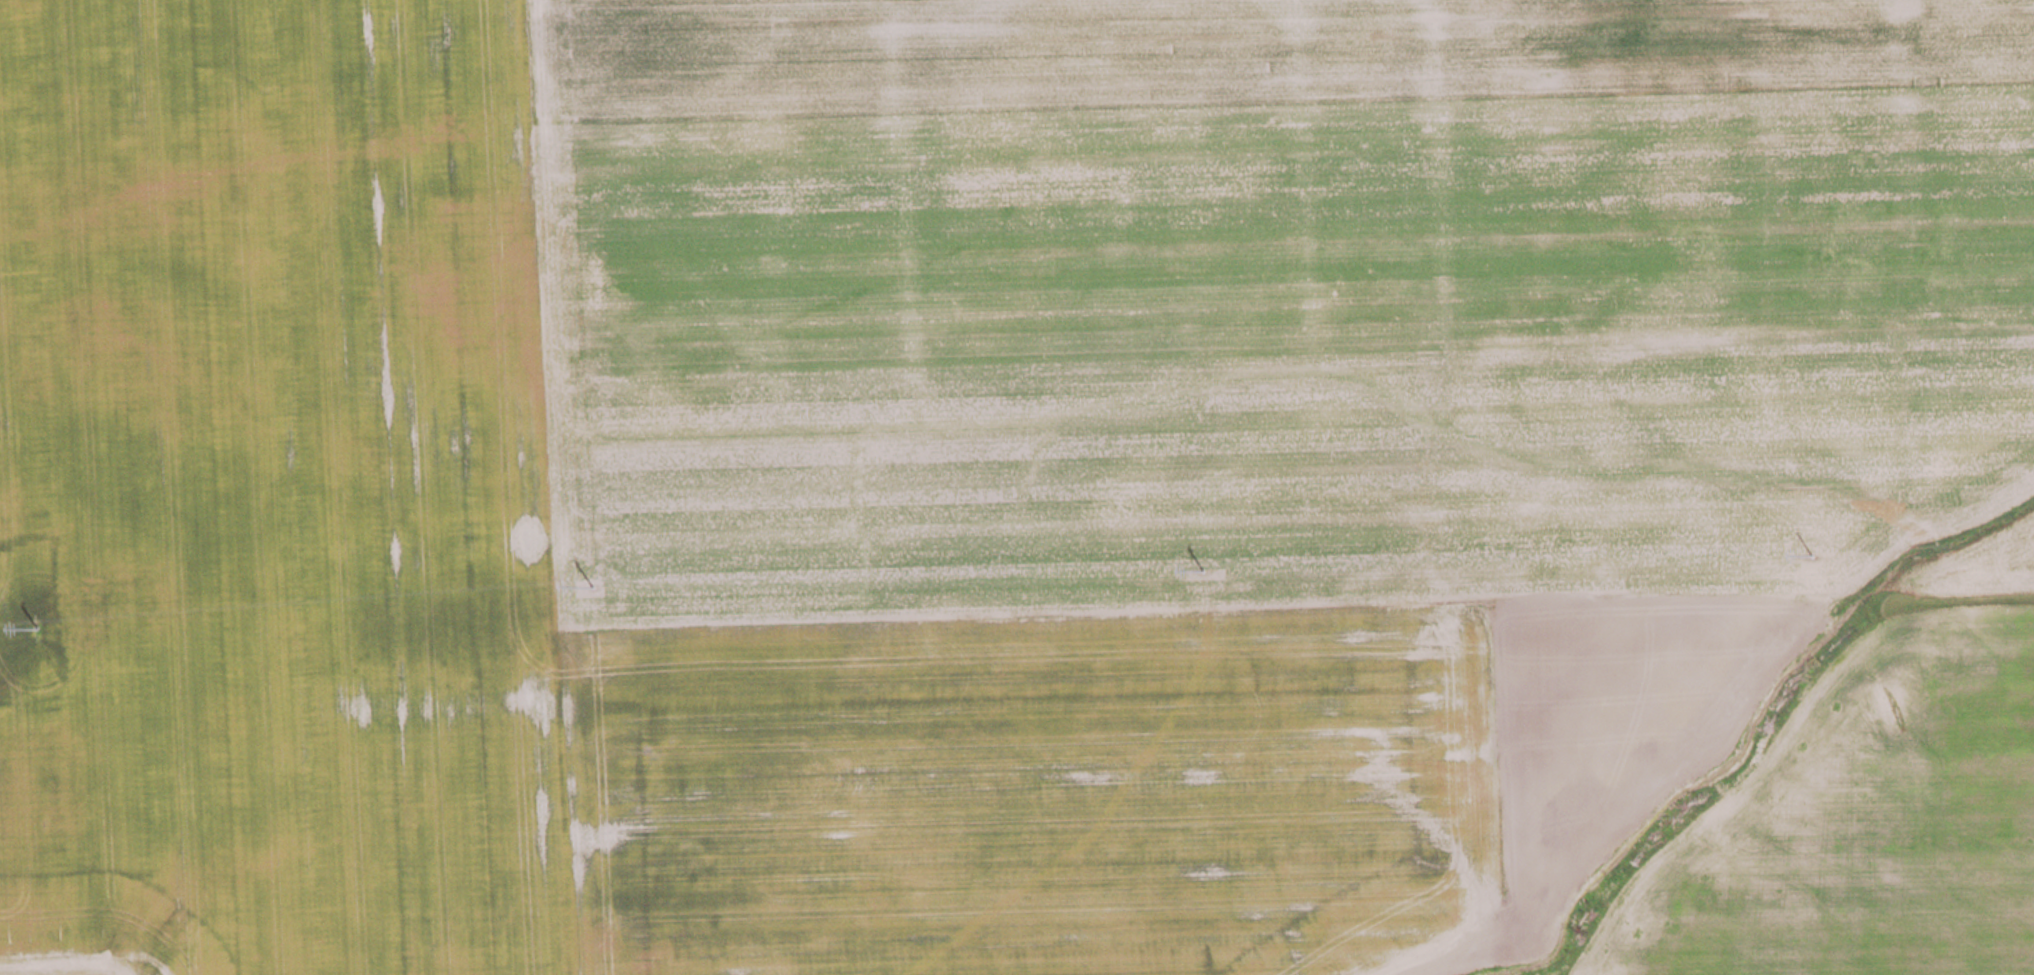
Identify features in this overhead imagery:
power tower: (1815, 557)
power tower: (1205, 574)
power tower: (595, 589)
power tower: (41, 629)

